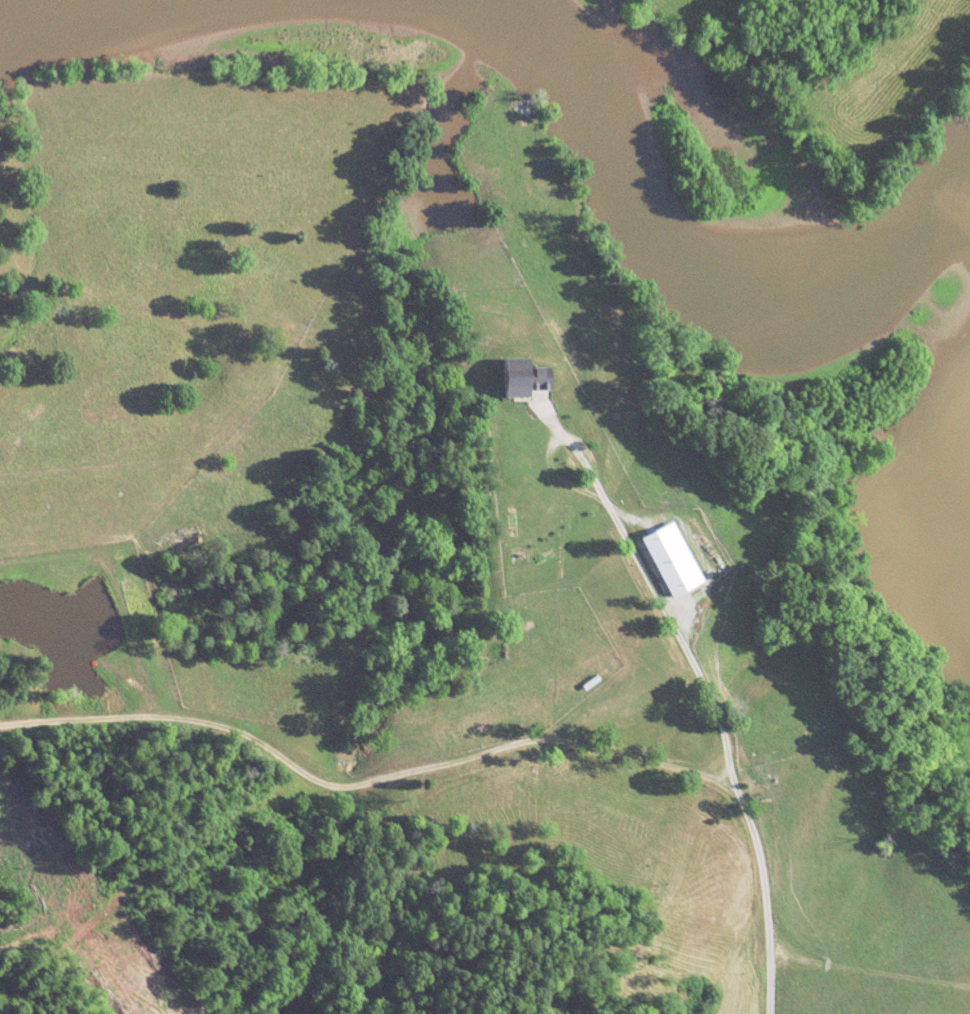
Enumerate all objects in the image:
river: (19, 5)
river: (676, 238)
building: (522, 378)
road: (710, 693)

